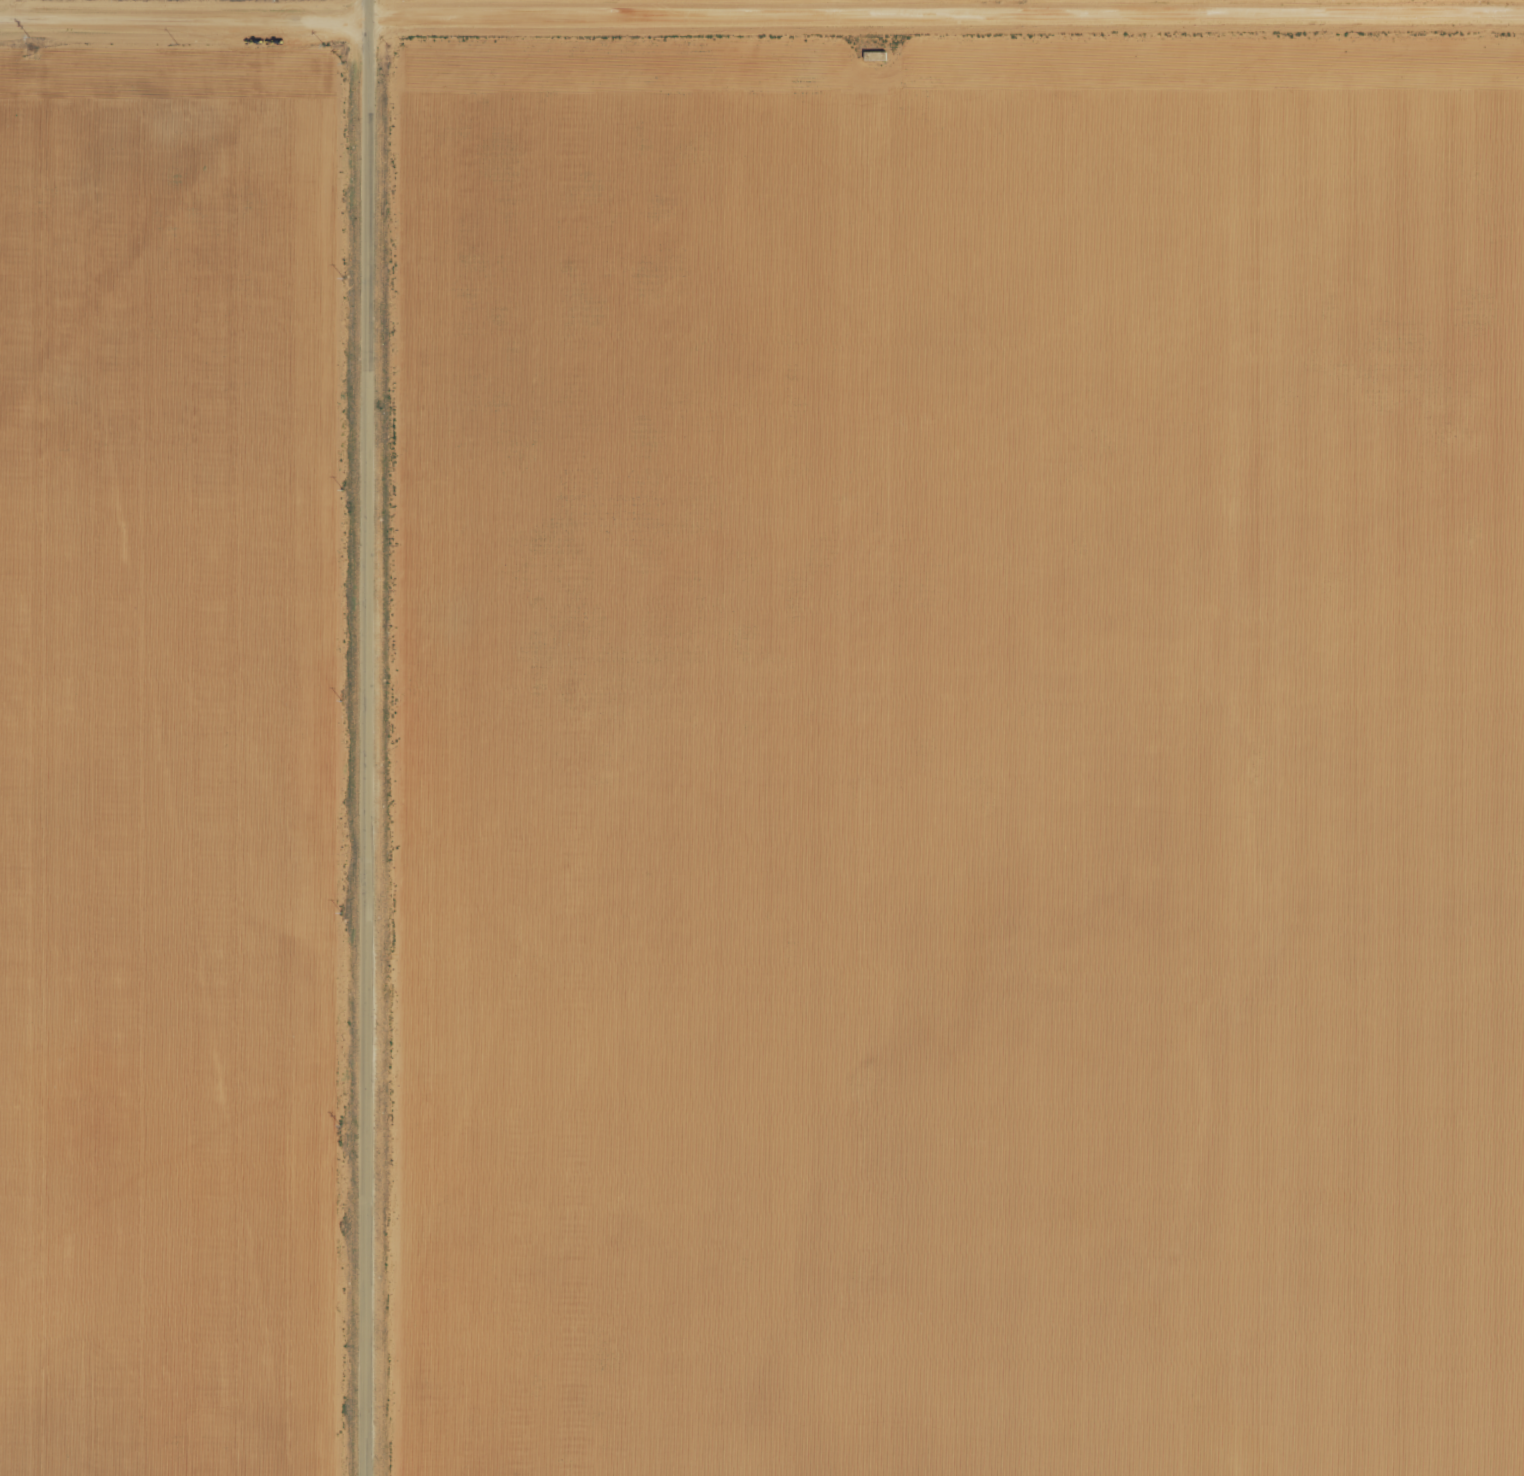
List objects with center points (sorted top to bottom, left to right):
road: (370, 738)

